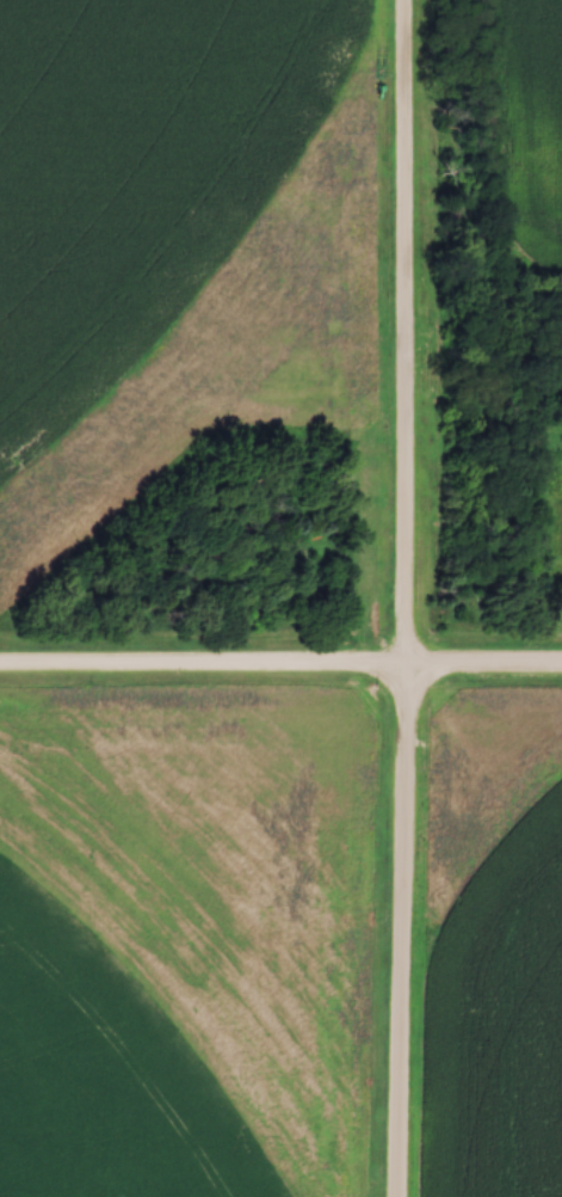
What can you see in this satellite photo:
road: (404, 598)
road: (280, 668)

